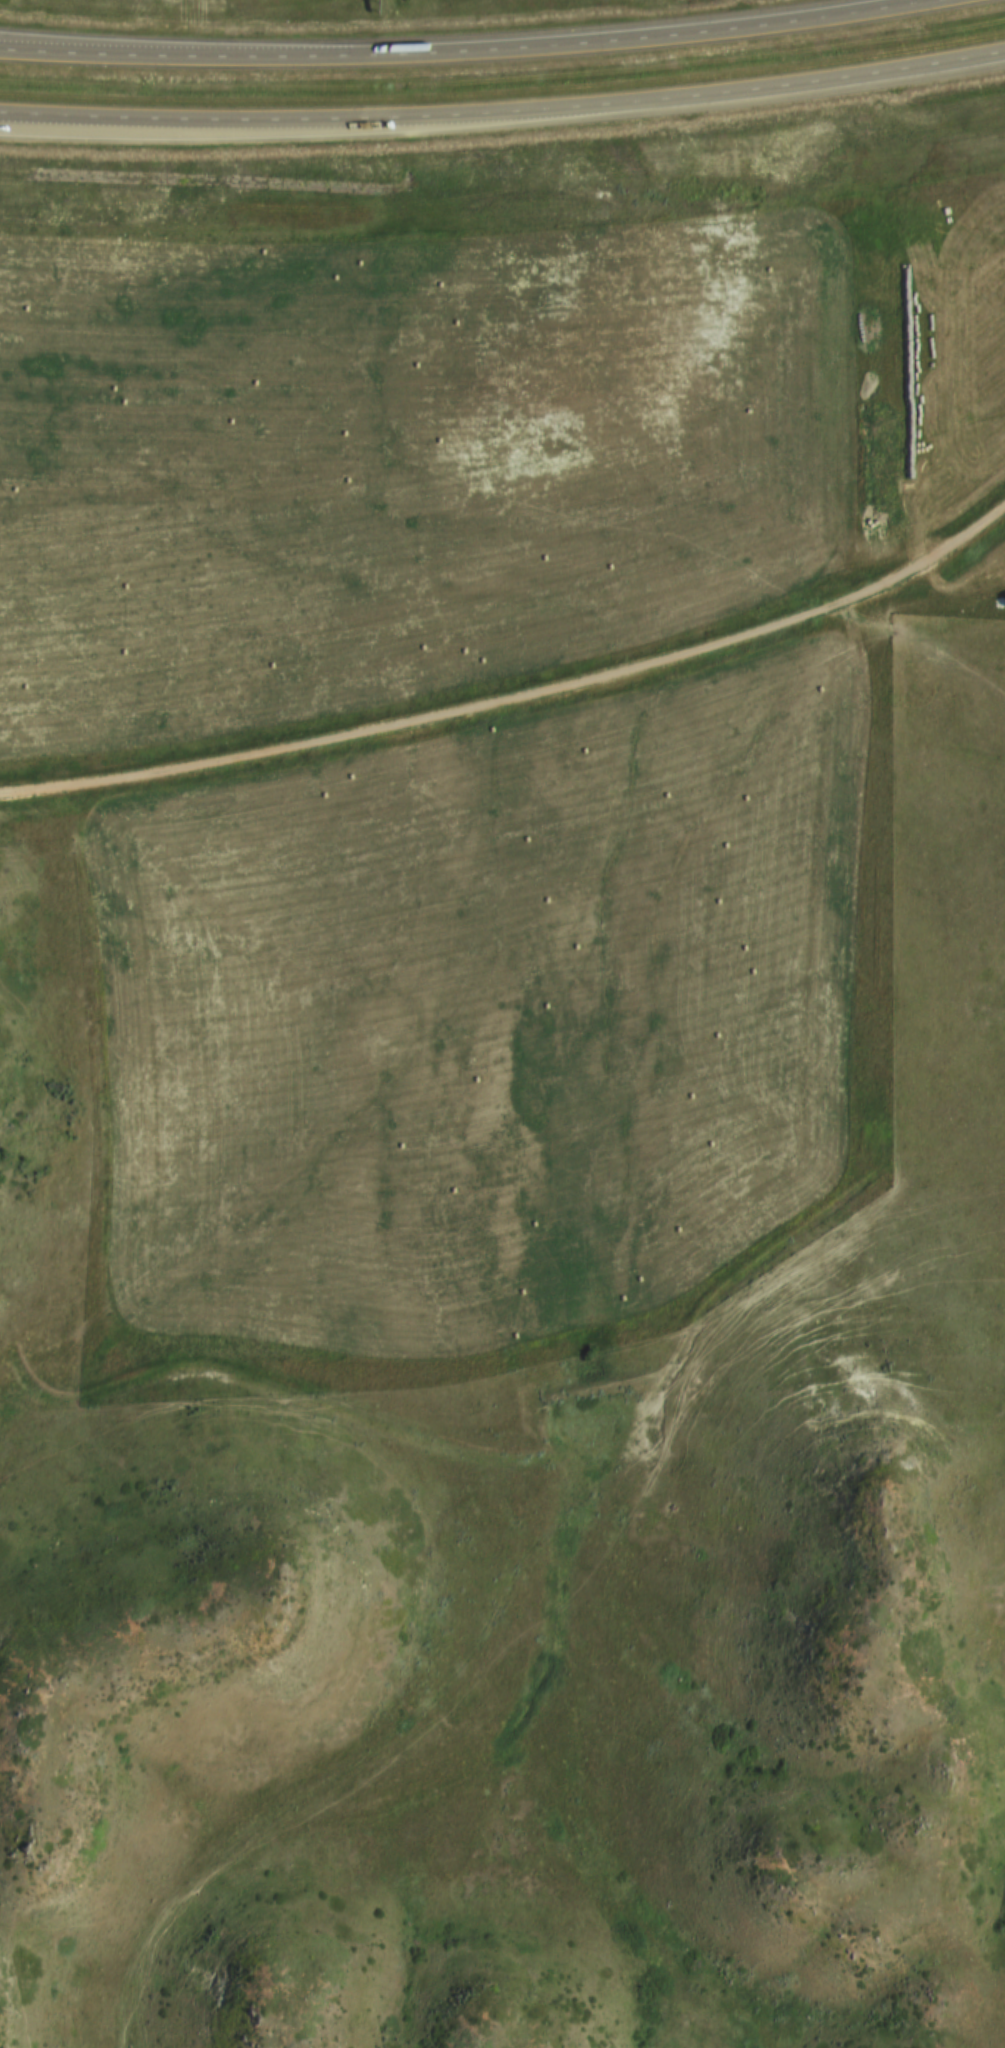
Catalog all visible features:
road: (471, 58)
road: (504, 119)
road: (519, 704)

